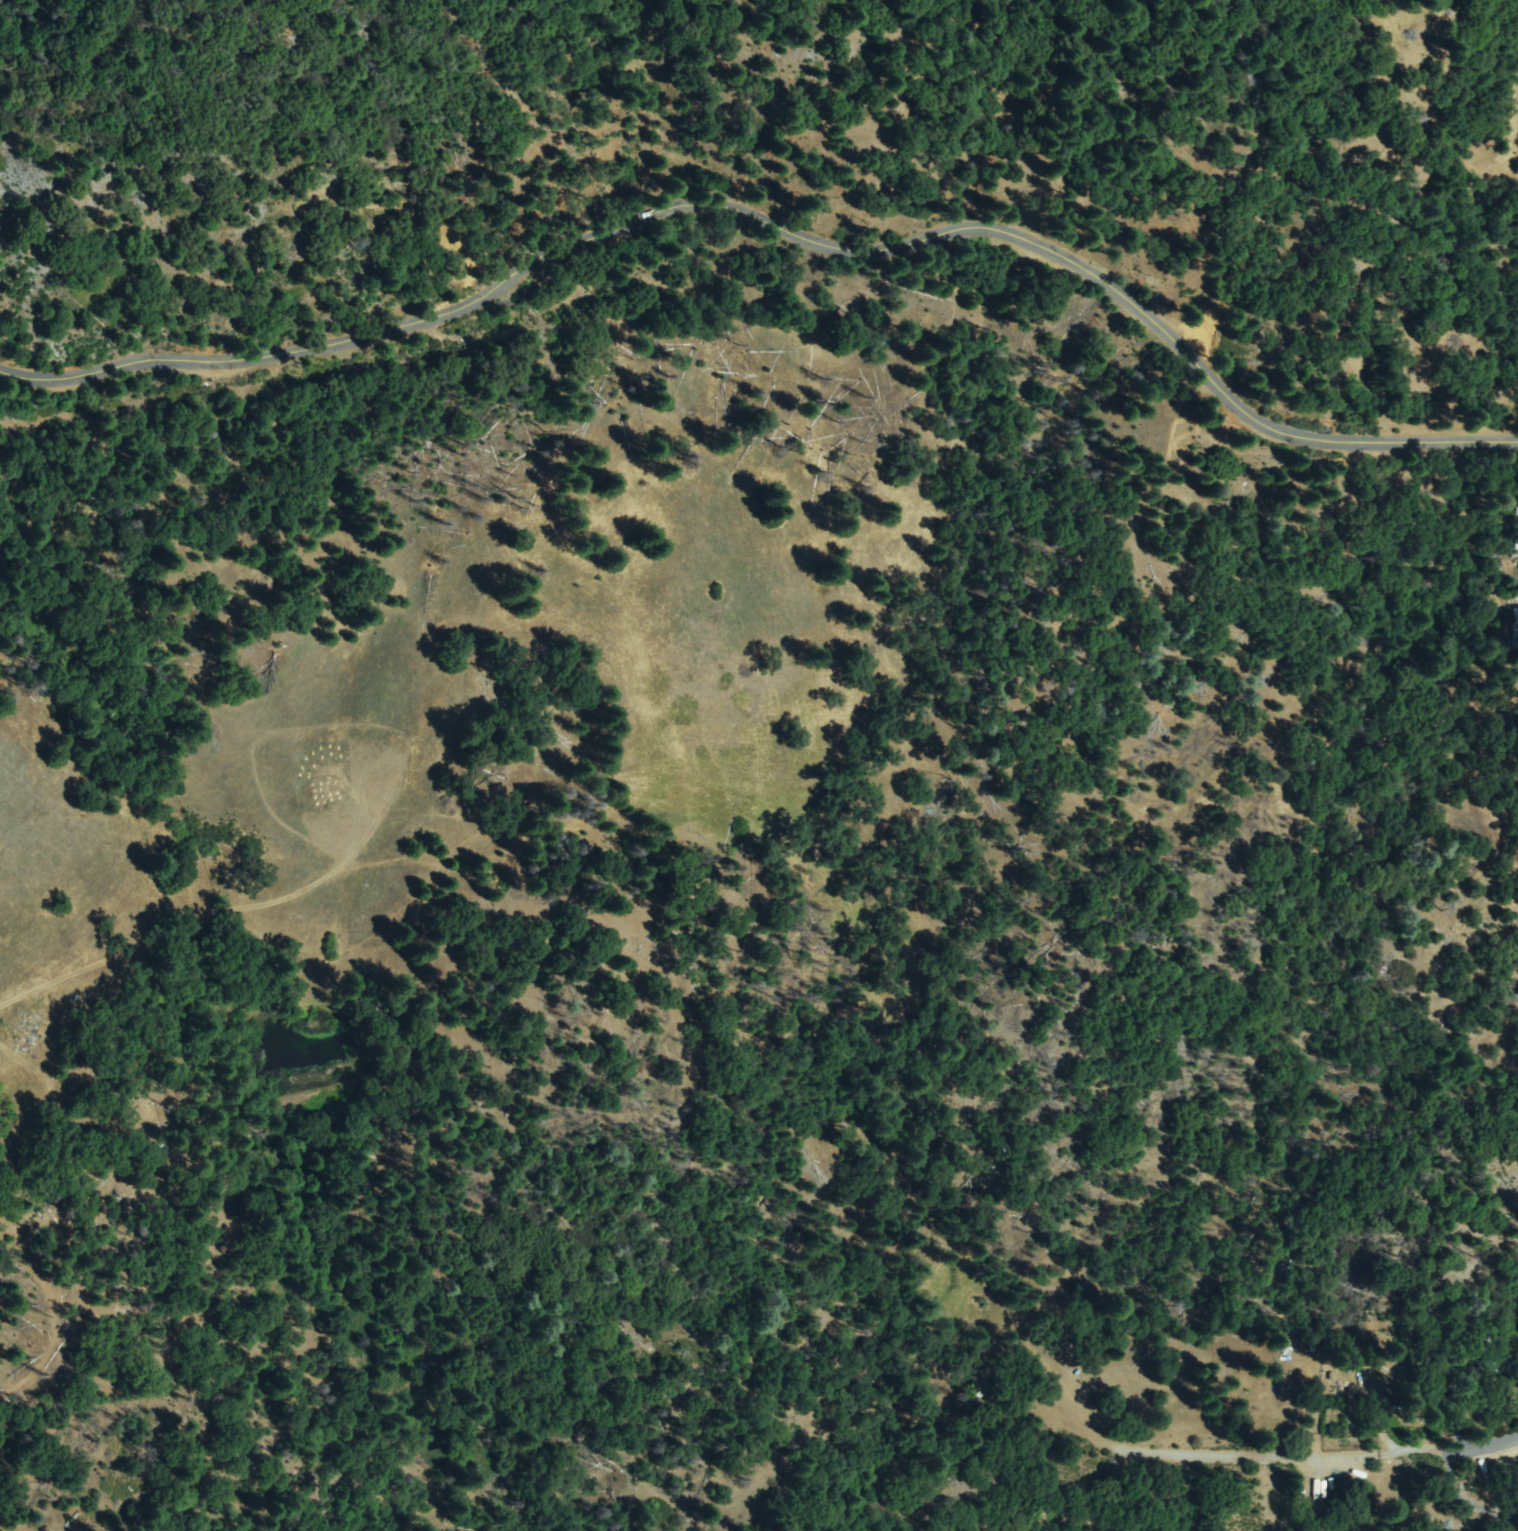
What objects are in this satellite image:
road: (777, 230)
building: (1516, 537)
building: (1515, 630)
road: (328, 820)
building: (1357, 1357)
building: (1501, 1366)
building: (1395, 1369)

